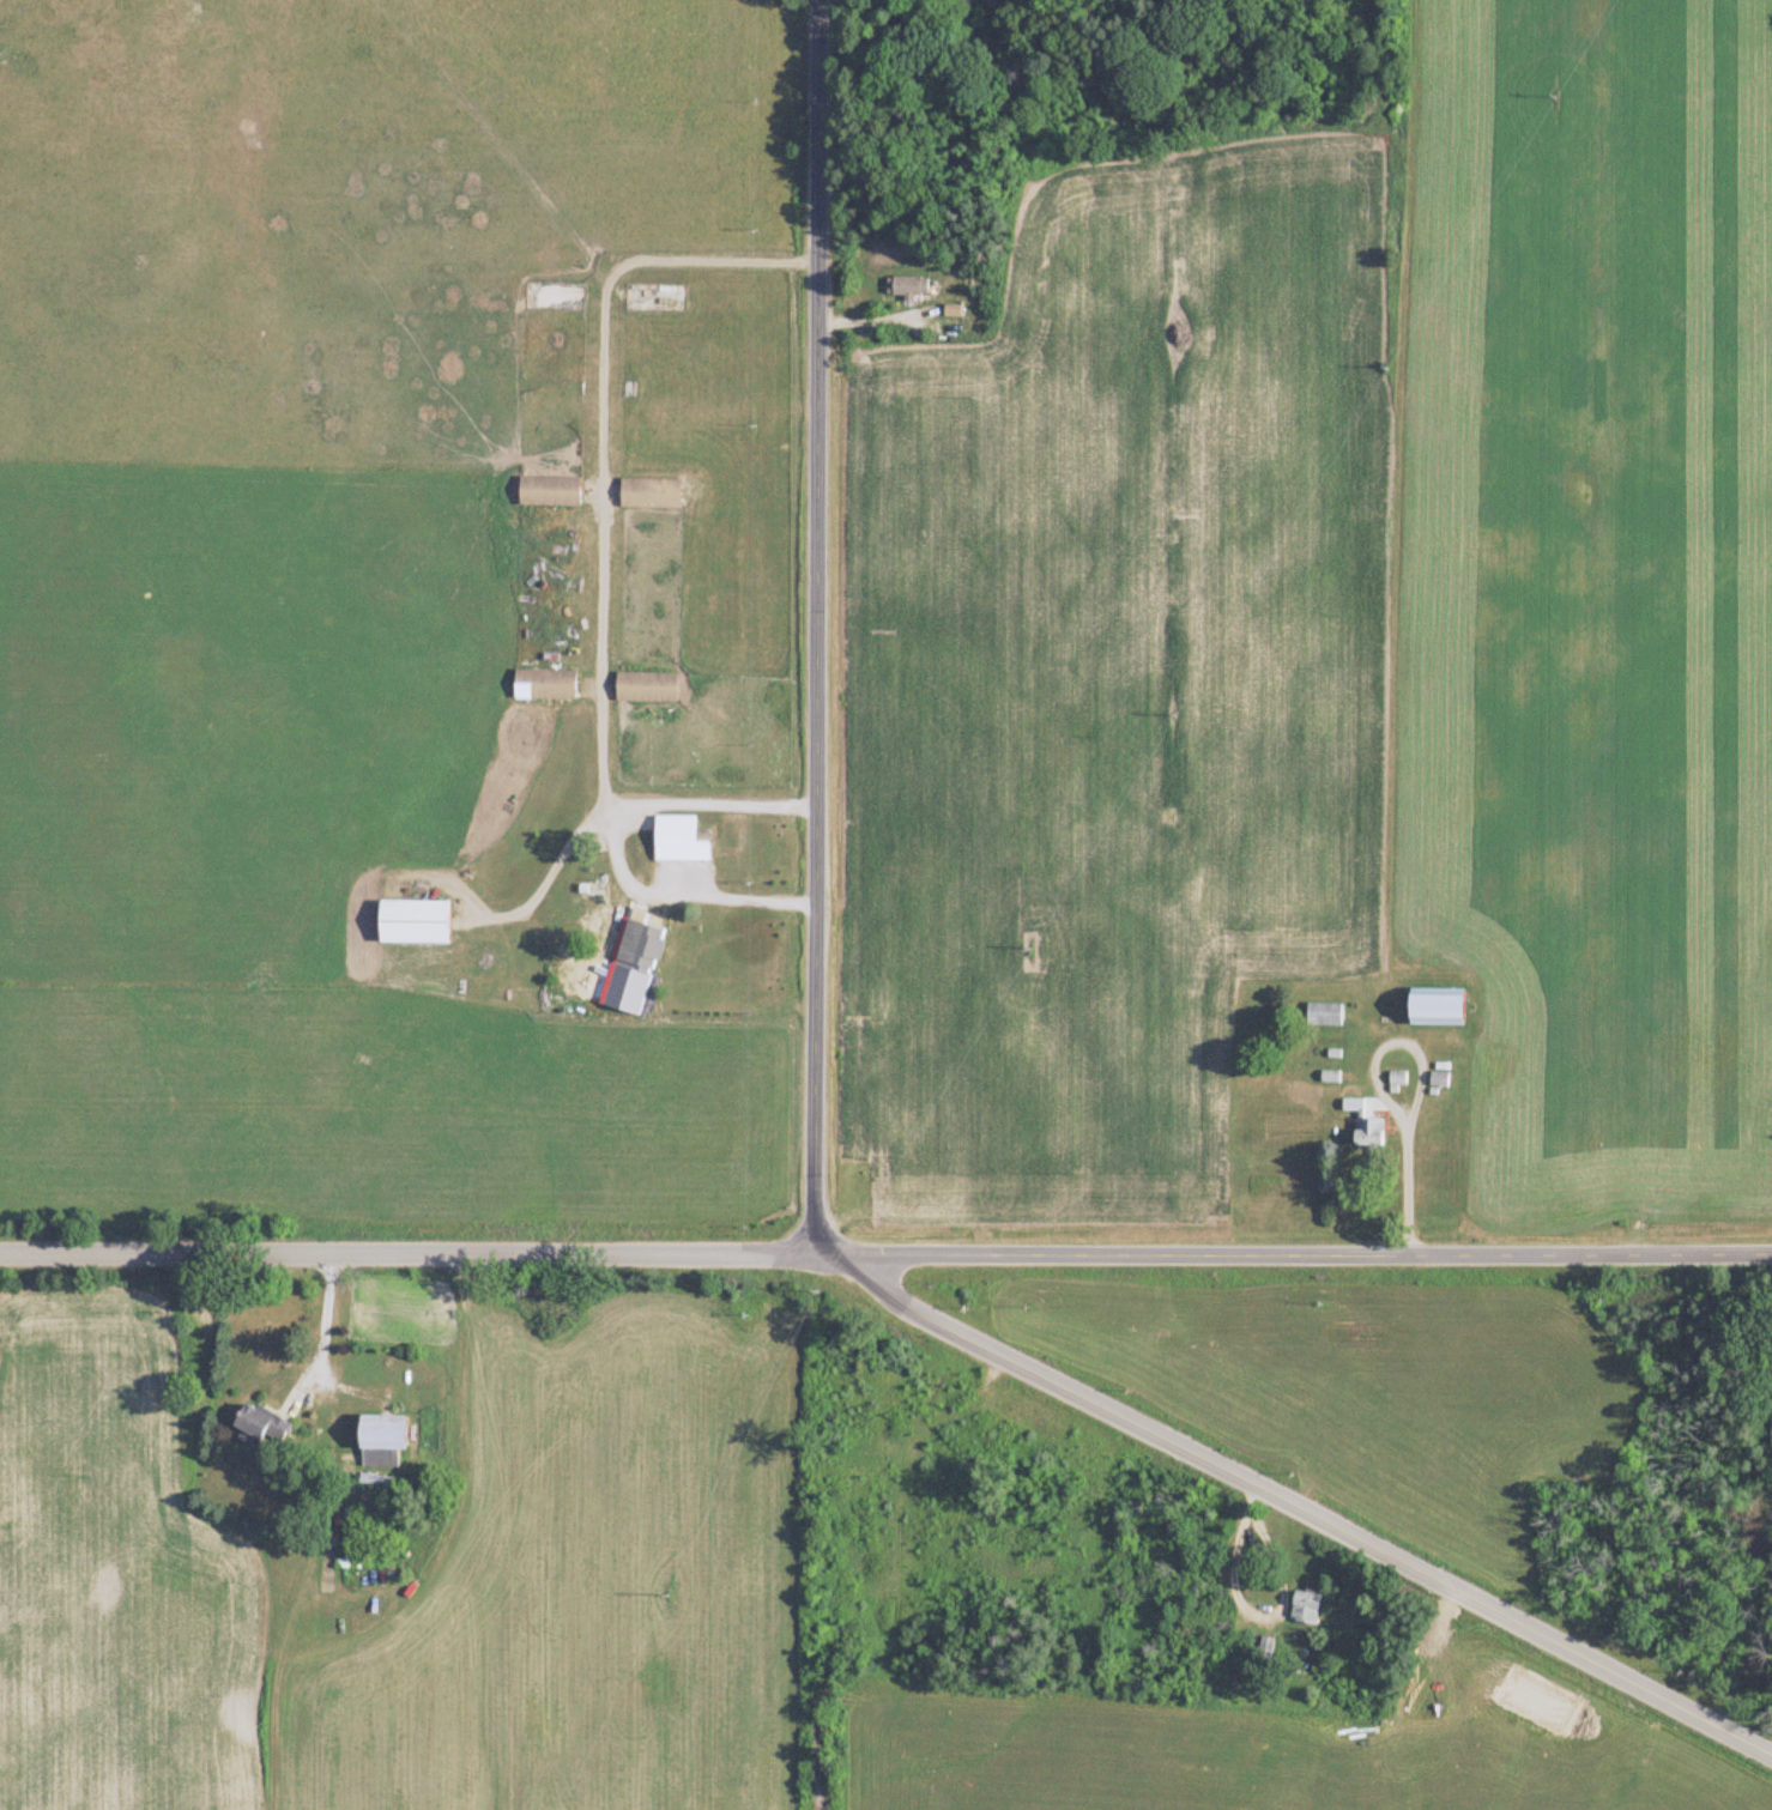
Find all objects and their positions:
building: (903, 287)
building: (546, 491)
building: (648, 494)
road: (599, 537)
road: (818, 624)
building: (542, 685)
building: (643, 688)
building: (677, 836)
road: (682, 891)
building: (410, 922)
building: (637, 946)
building: (1433, 1007)
building: (1322, 1013)
building: (1395, 1079)
building: (1437, 1079)
road: (1421, 1086)
building: (1366, 1131)
road: (885, 1251)
road: (326, 1326)
building: (256, 1427)
building: (379, 1434)
road: (1293, 1507)
building: (1302, 1608)

